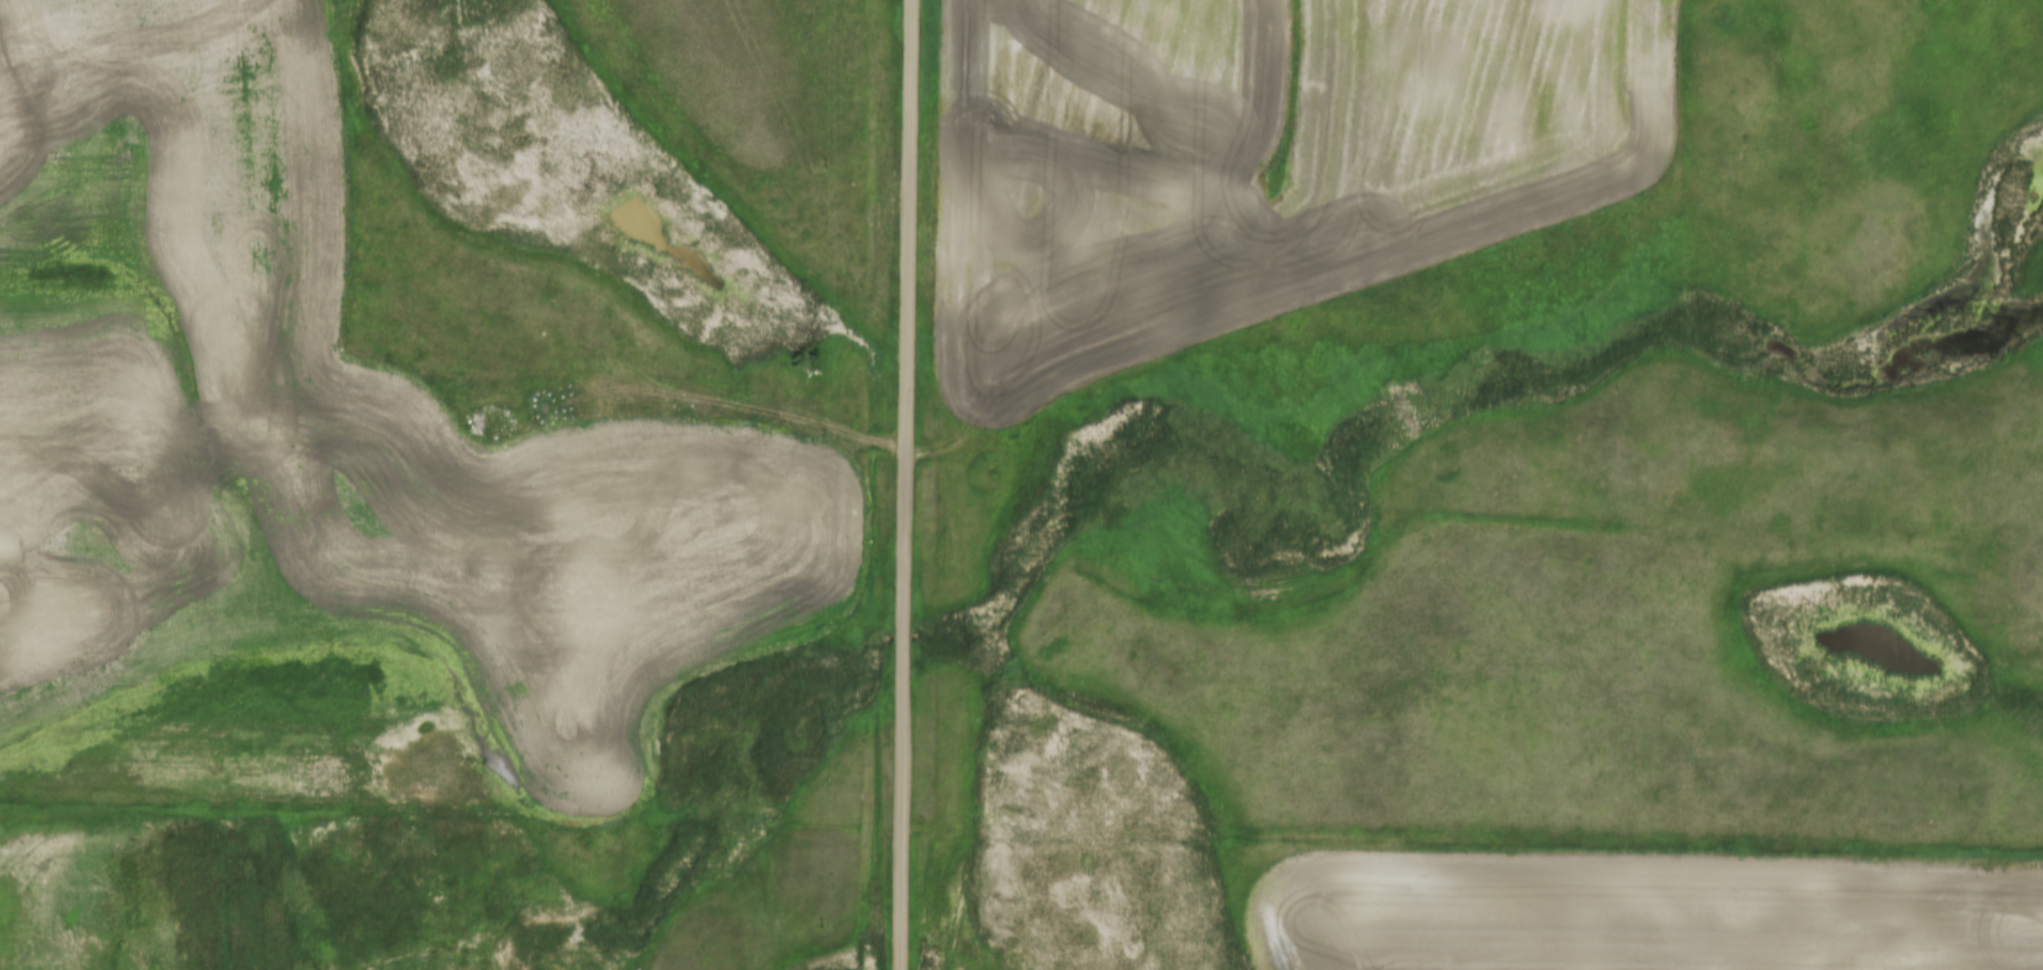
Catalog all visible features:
building: (9, 134)
road: (907, 484)
building: (220, 587)

